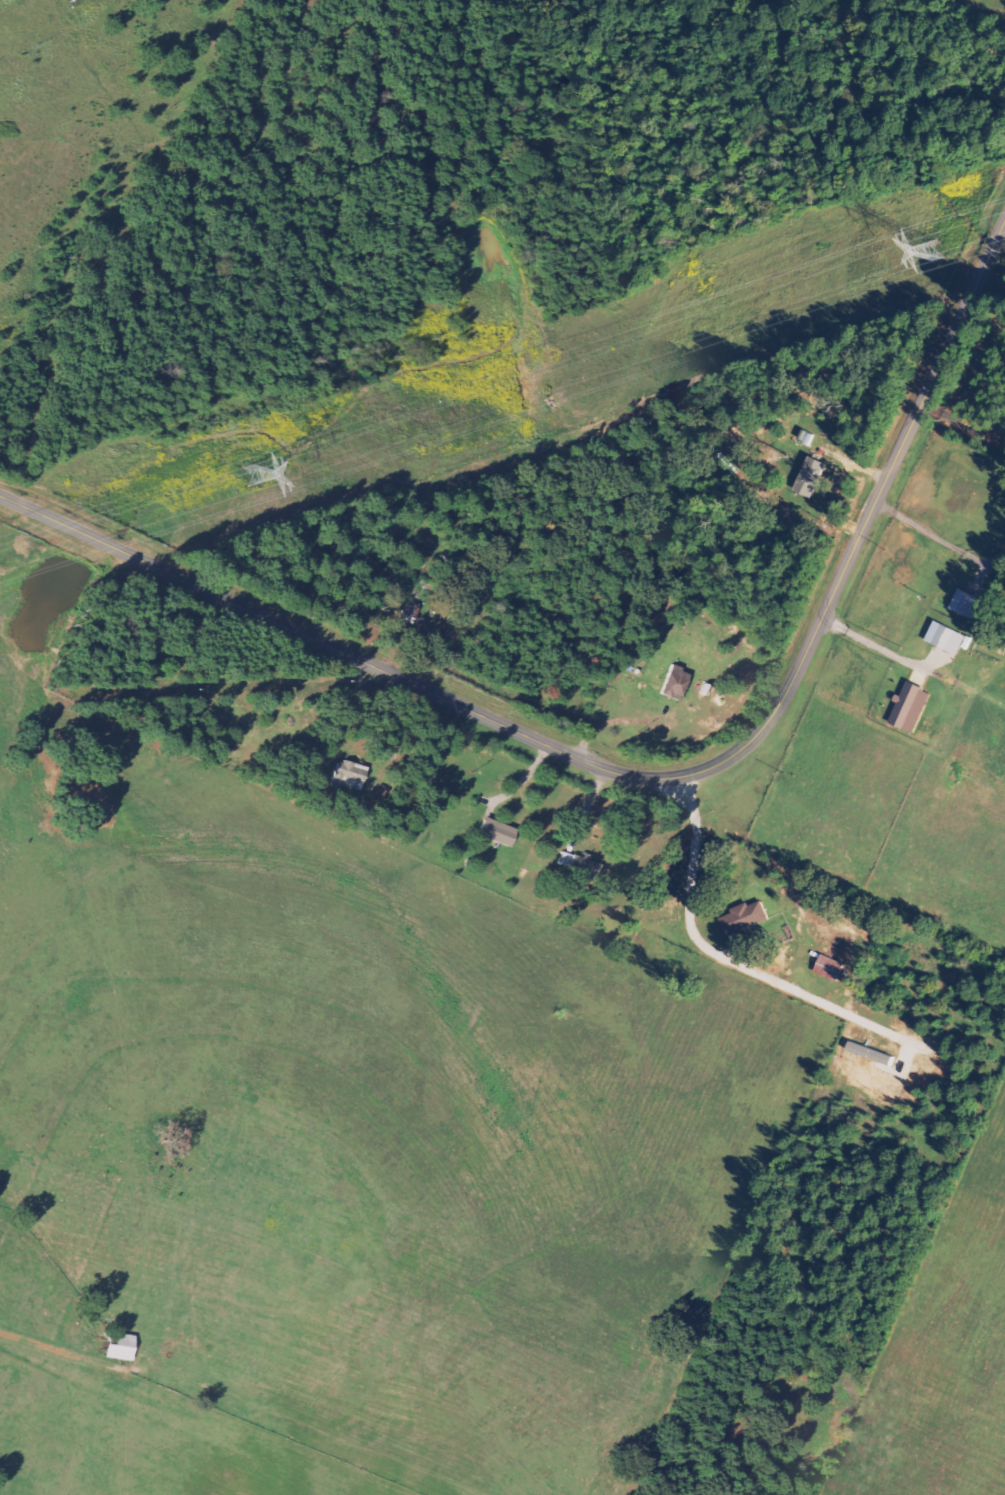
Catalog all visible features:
power tower: (941, 251)
power tower: (254, 475)
building: (818, 477)
building: (972, 603)
building: (952, 638)
building: (974, 669)
building: (679, 683)
building: (917, 707)
building: (353, 776)
road: (638, 779)
building: (502, 833)
building: (583, 864)
road: (691, 876)
building: (750, 918)
building: (835, 968)
building: (125, 1346)

